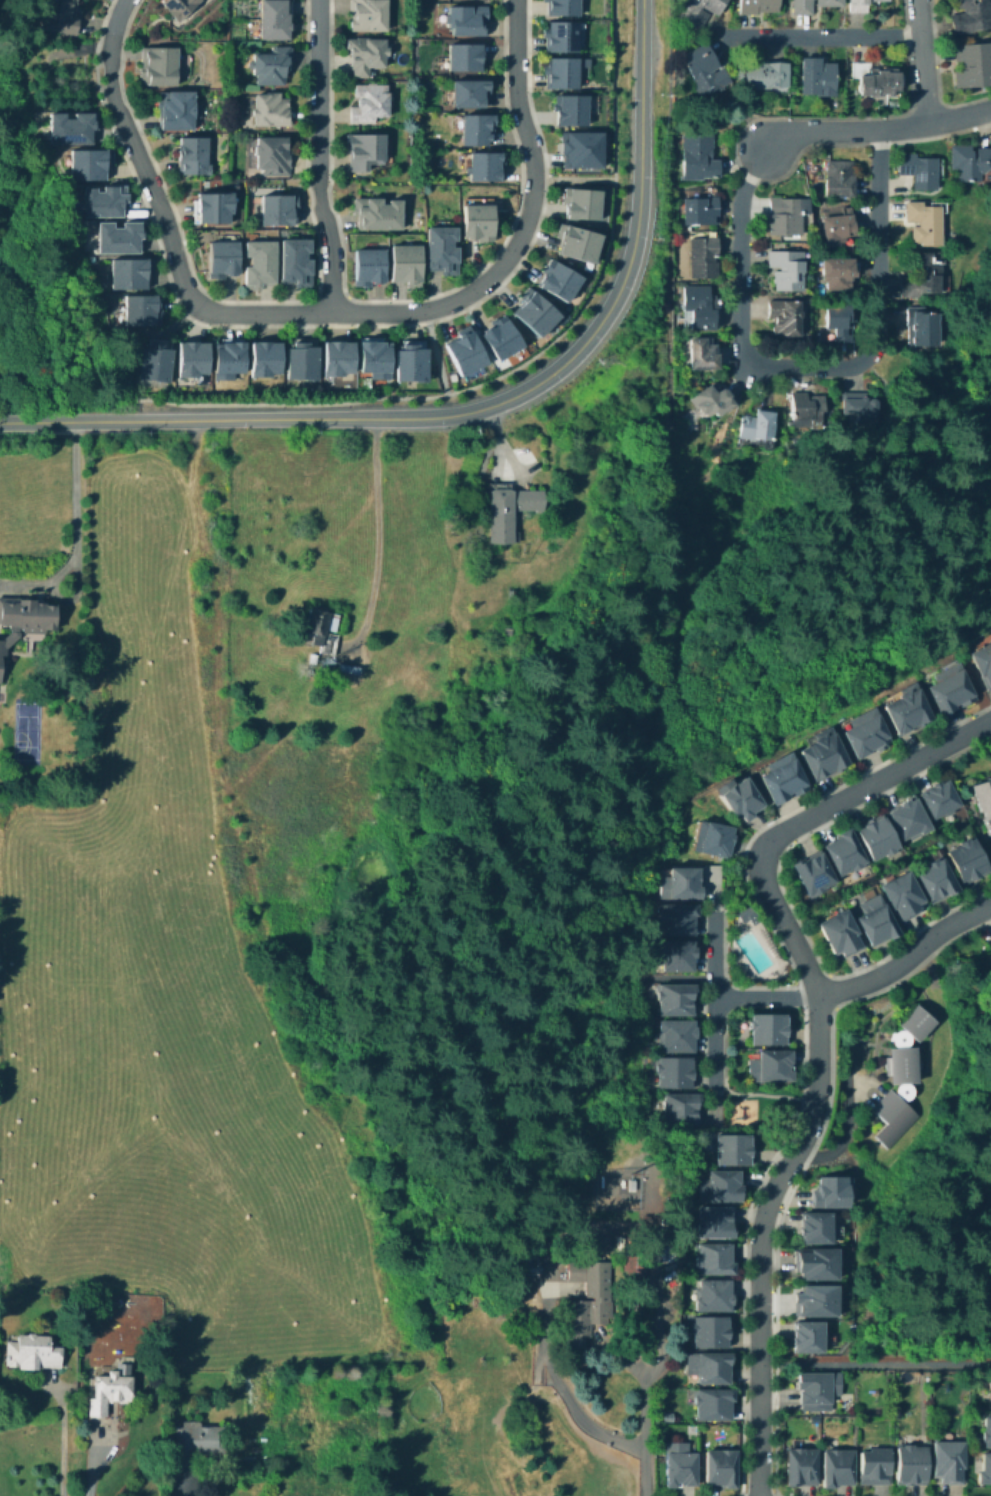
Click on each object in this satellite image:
building: (811, 6)
building: (178, 7)
building: (563, 7)
building: (758, 7)
building: (859, 8)
building: (702, 10)
building: (58, 15)
building: (972, 15)
building: (369, 16)
building: (468, 20)
building: (275, 21)
road: (823, 35)
building: (561, 37)
building: (367, 54)
building: (465, 58)
road: (667, 58)
road: (922, 61)
building: (974, 64)
building: (157, 65)
building: (272, 65)
building: (858, 67)
building: (705, 71)
building: (565, 72)
building: (761, 74)
road: (935, 77)
building: (819, 79)
building: (879, 83)
road: (613, 89)
building: (471, 93)
building: (370, 103)
road: (925, 108)
building: (271, 109)
building: (175, 110)
building: (571, 110)
road: (711, 117)
building: (70, 127)
building: (477, 129)
road: (877, 130)
road: (733, 143)
building: (581, 150)
building: (366, 152)
building: (274, 155)
road: (318, 156)
building: (194, 157)
building: (700, 157)
building: (969, 163)
building: (89, 165)
building: (487, 168)
building: (916, 170)
road: (573, 179)
building: (841, 180)
road: (626, 186)
road: (639, 194)
building: (103, 201)
building: (579, 202)
building: (214, 209)
building: (275, 210)
building: (699, 210)
building: (378, 214)
building: (786, 215)
road: (163, 217)
building: (478, 221)
building: (925, 222)
road: (524, 226)
building: (838, 229)
building: (117, 237)
building: (575, 245)
building: (439, 249)
building: (295, 259)
building: (704, 259)
building: (222, 261)
building: (258, 261)
building: (406, 263)
building: (369, 267)
road: (598, 271)
building: (787, 271)
building: (130, 273)
road: (668, 273)
building: (838, 276)
building: (926, 277)
building: (559, 281)
road: (329, 295)
road: (407, 299)
road: (249, 300)
building: (698, 308)
building: (140, 310)
building: (534, 314)
building: (784, 320)
building: (838, 320)
road: (327, 324)
building: (922, 330)
building: (502, 339)
road: (436, 351)
building: (466, 353)
building: (703, 354)
building: (193, 358)
building: (338, 360)
building: (230, 361)
building: (265, 361)
building: (301, 361)
building: (374, 361)
building: (154, 364)
building: (412, 365)
road: (815, 368)
road: (497, 374)
building: (711, 401)
road: (281, 403)
building: (857, 405)
building: (808, 410)
road: (353, 418)
road: (67, 421)
building: (755, 426)
building: (510, 509)
road: (73, 528)
road: (375, 531)
building: (24, 618)
building: (316, 624)
building: (983, 662)
building: (88, 683)
building: (947, 688)
building: (906, 709)
park: (27, 732)
building: (864, 733)
building: (821, 758)
building: (780, 782)
building: (984, 799)
building: (940, 800)
building: (737, 803)
building: (908, 820)
building: (879, 838)
building: (713, 841)
building: (845, 854)
building: (967, 861)
building: (815, 874)
building: (936, 878)
building: (680, 886)
road: (781, 891)
building: (902, 896)
building: (748, 915)
building: (675, 919)
building: (877, 921)
building: (840, 934)
building: (989, 942)
road: (906, 956)
building: (677, 957)
road: (829, 989)
road: (765, 999)
building: (674, 1001)
road: (715, 1001)
building: (915, 1025)
road: (803, 1027)
building: (768, 1030)
building: (678, 1038)
road: (817, 1042)
building: (904, 1064)
building: (771, 1068)
building: (674, 1075)
road: (764, 1096)
park: (760, 1105)
building: (679, 1111)
building: (893, 1116)
building: (733, 1152)
road: (803, 1161)
building: (720, 1188)
building: (830, 1192)
building: (713, 1225)
building: (816, 1228)
building: (714, 1260)
building: (817, 1266)
building: (715, 1297)
building: (583, 1302)
building: (819, 1303)
building: (712, 1334)
building: (808, 1337)
building: (31, 1351)
building: (709, 1369)
building: (990, 1383)
building: (109, 1392)
building: (819, 1392)
building: (713, 1405)
road: (579, 1414)
road: (642, 1419)
road: (63, 1433)
building: (986, 1433)
building: (198, 1438)
building: (254, 1461)
building: (948, 1463)
building: (679, 1465)
building: (800, 1466)
building: (911, 1466)
building: (721, 1469)
building: (875, 1469)
building: (837, 1470)
building: (986, 1470)
road: (92, 1471)
road: (182, 1492)
road: (777, 1494)
road: (737, 1495)

